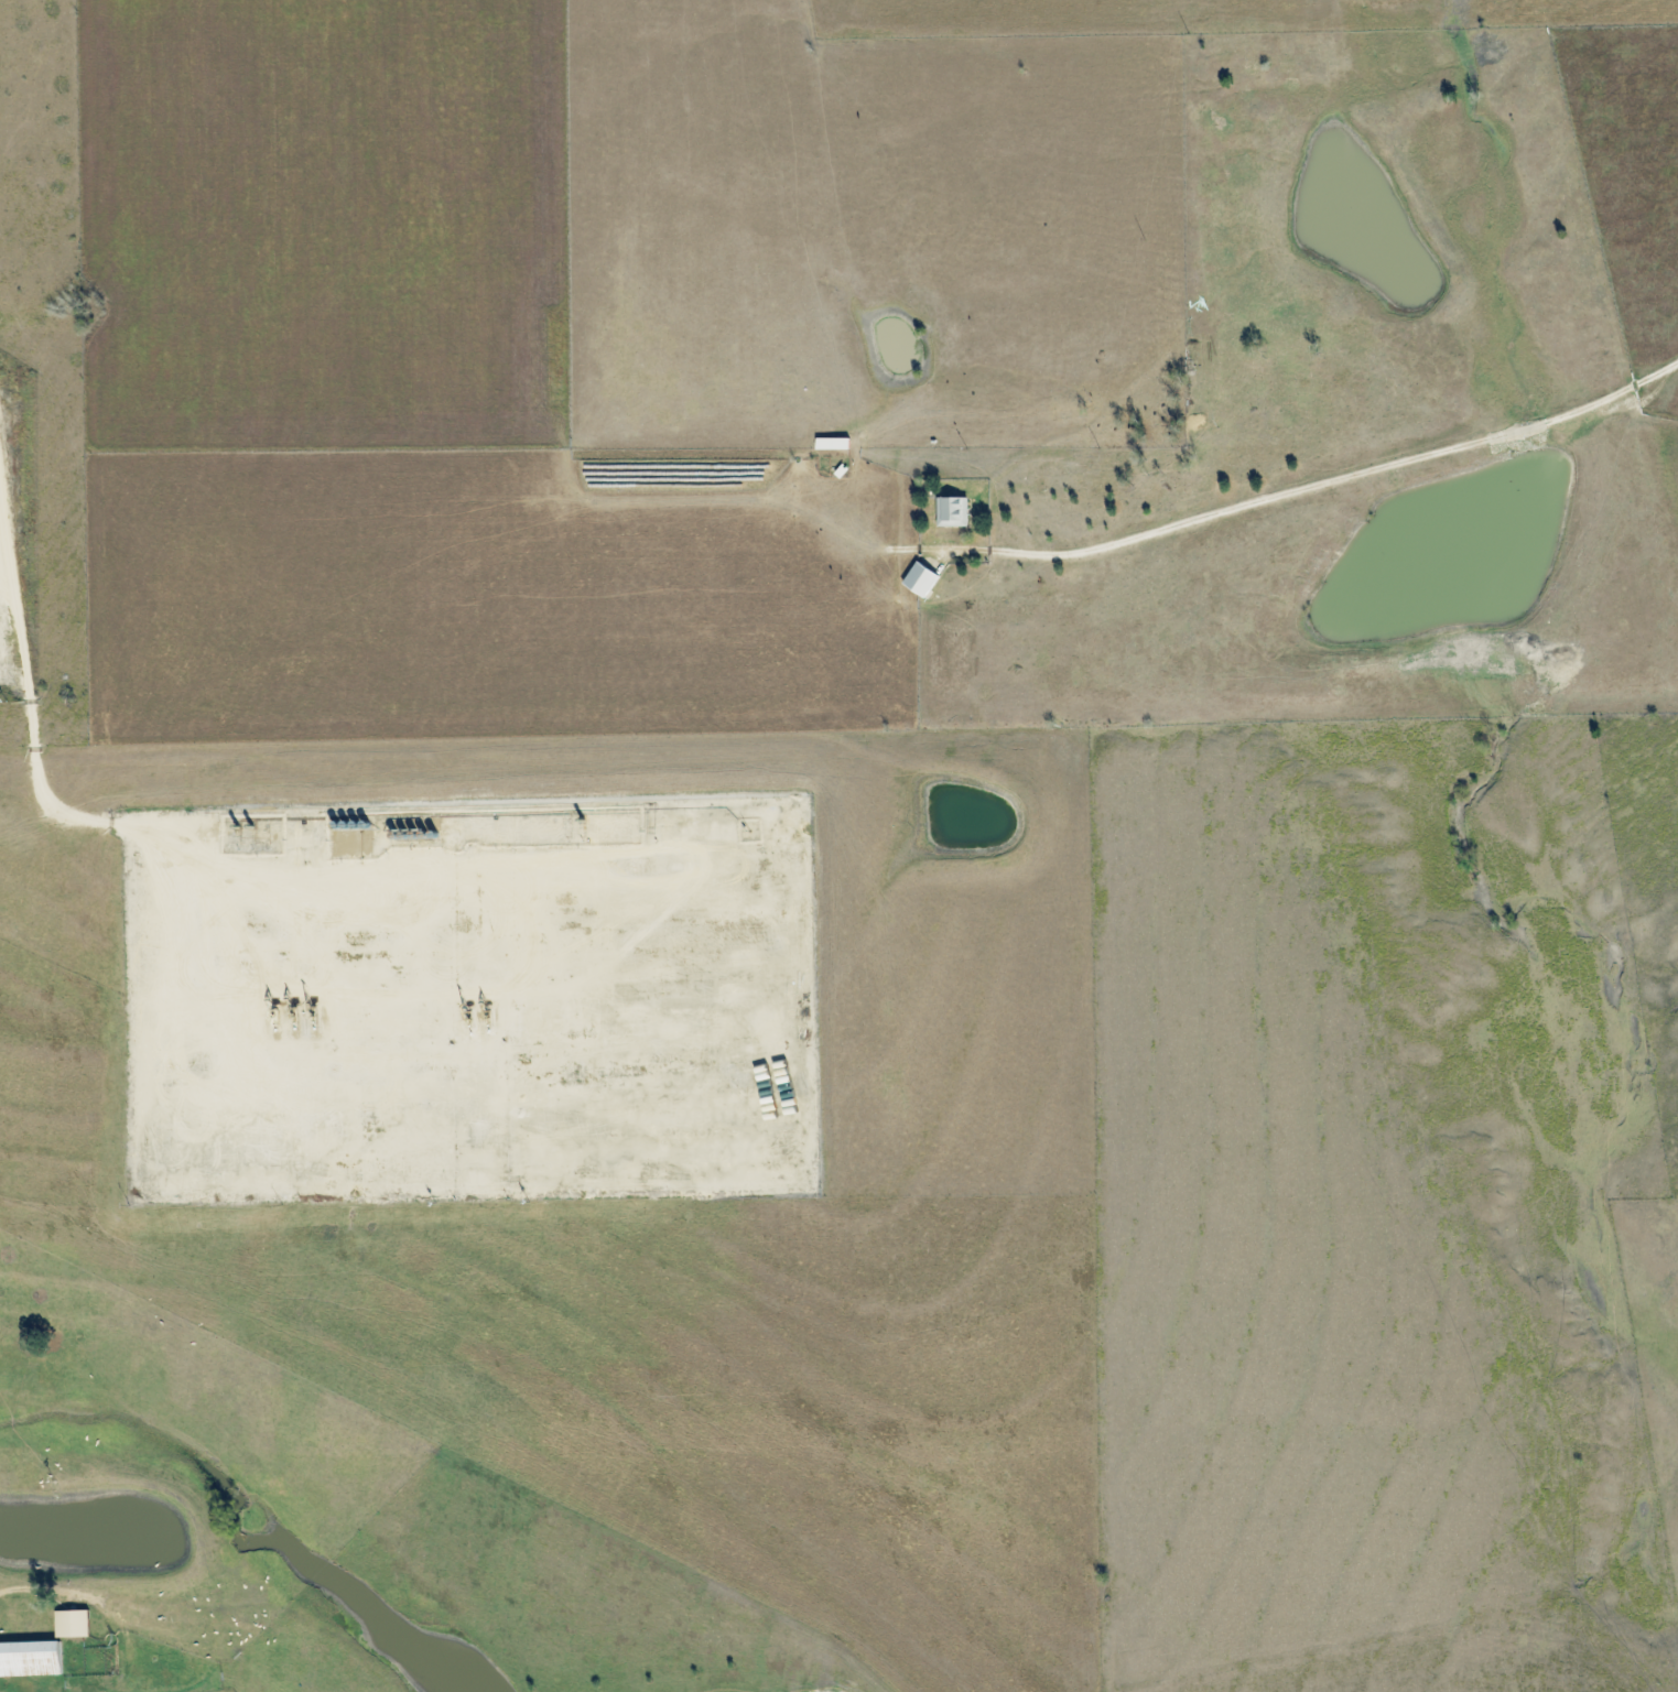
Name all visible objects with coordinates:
building: (832, 444)
road: (1319, 480)
building: (952, 512)
building: (920, 581)
road: (90, 1593)
building: (72, 1624)
building: (30, 1659)

